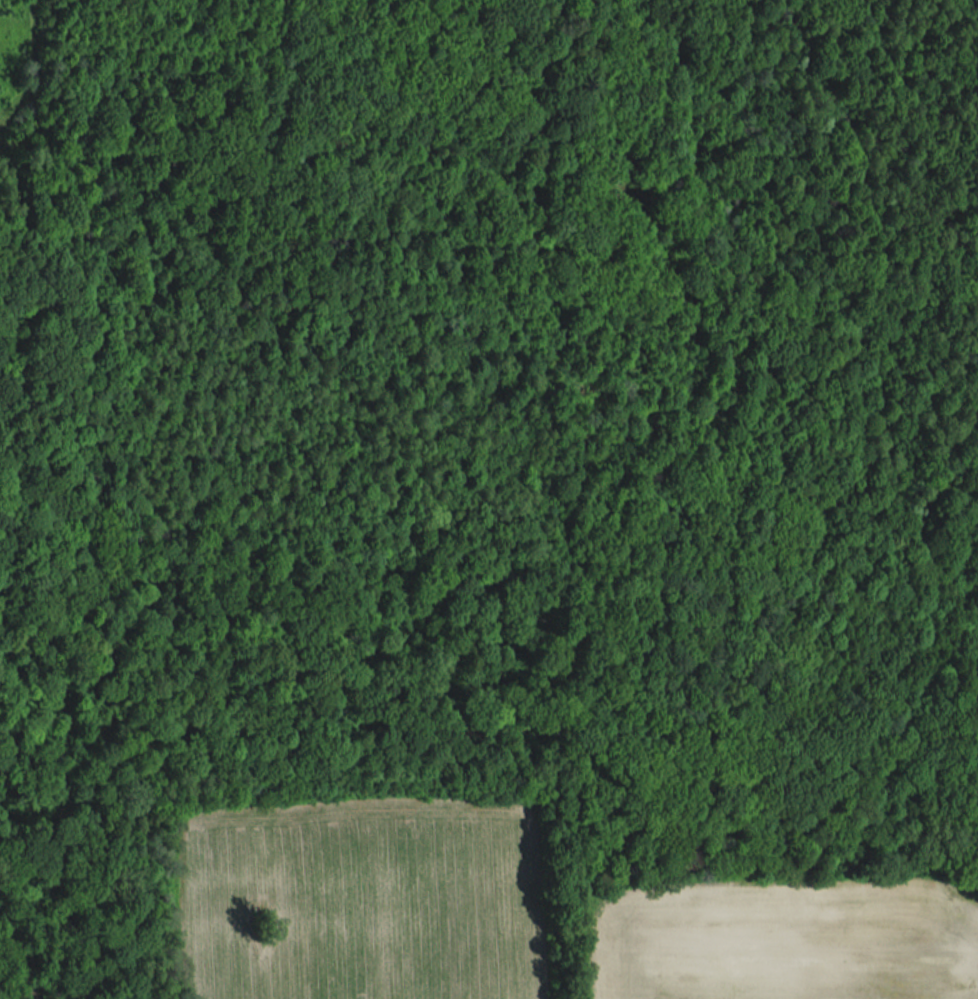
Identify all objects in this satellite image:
crop: (358, 901)
crop: (786, 938)

